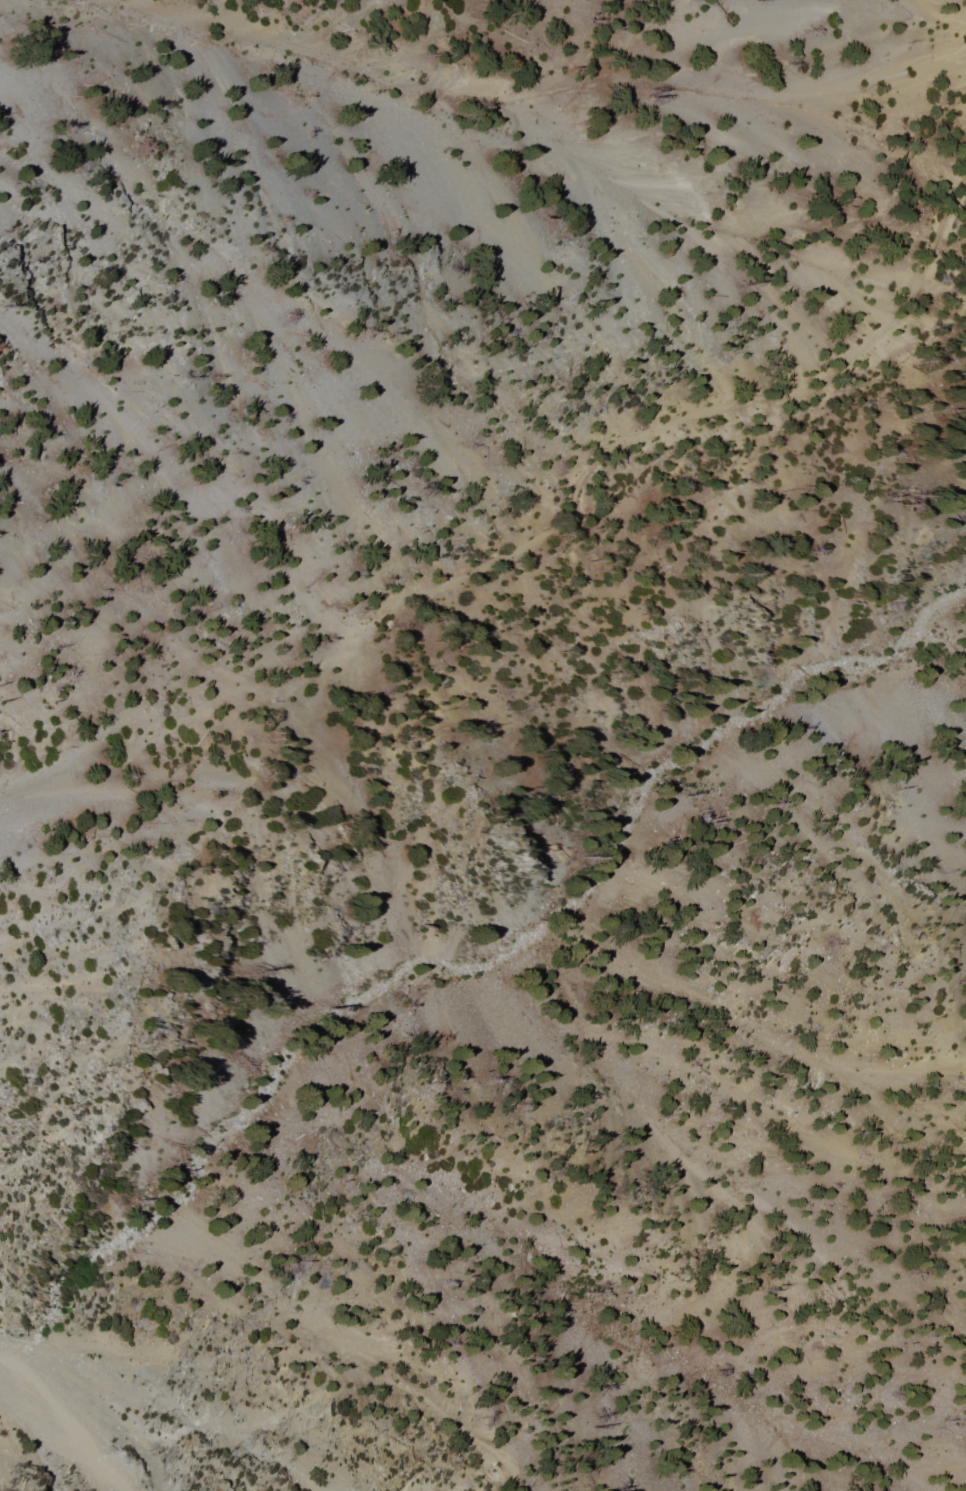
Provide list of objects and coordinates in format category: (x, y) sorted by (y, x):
ski resort: (546, 111)

